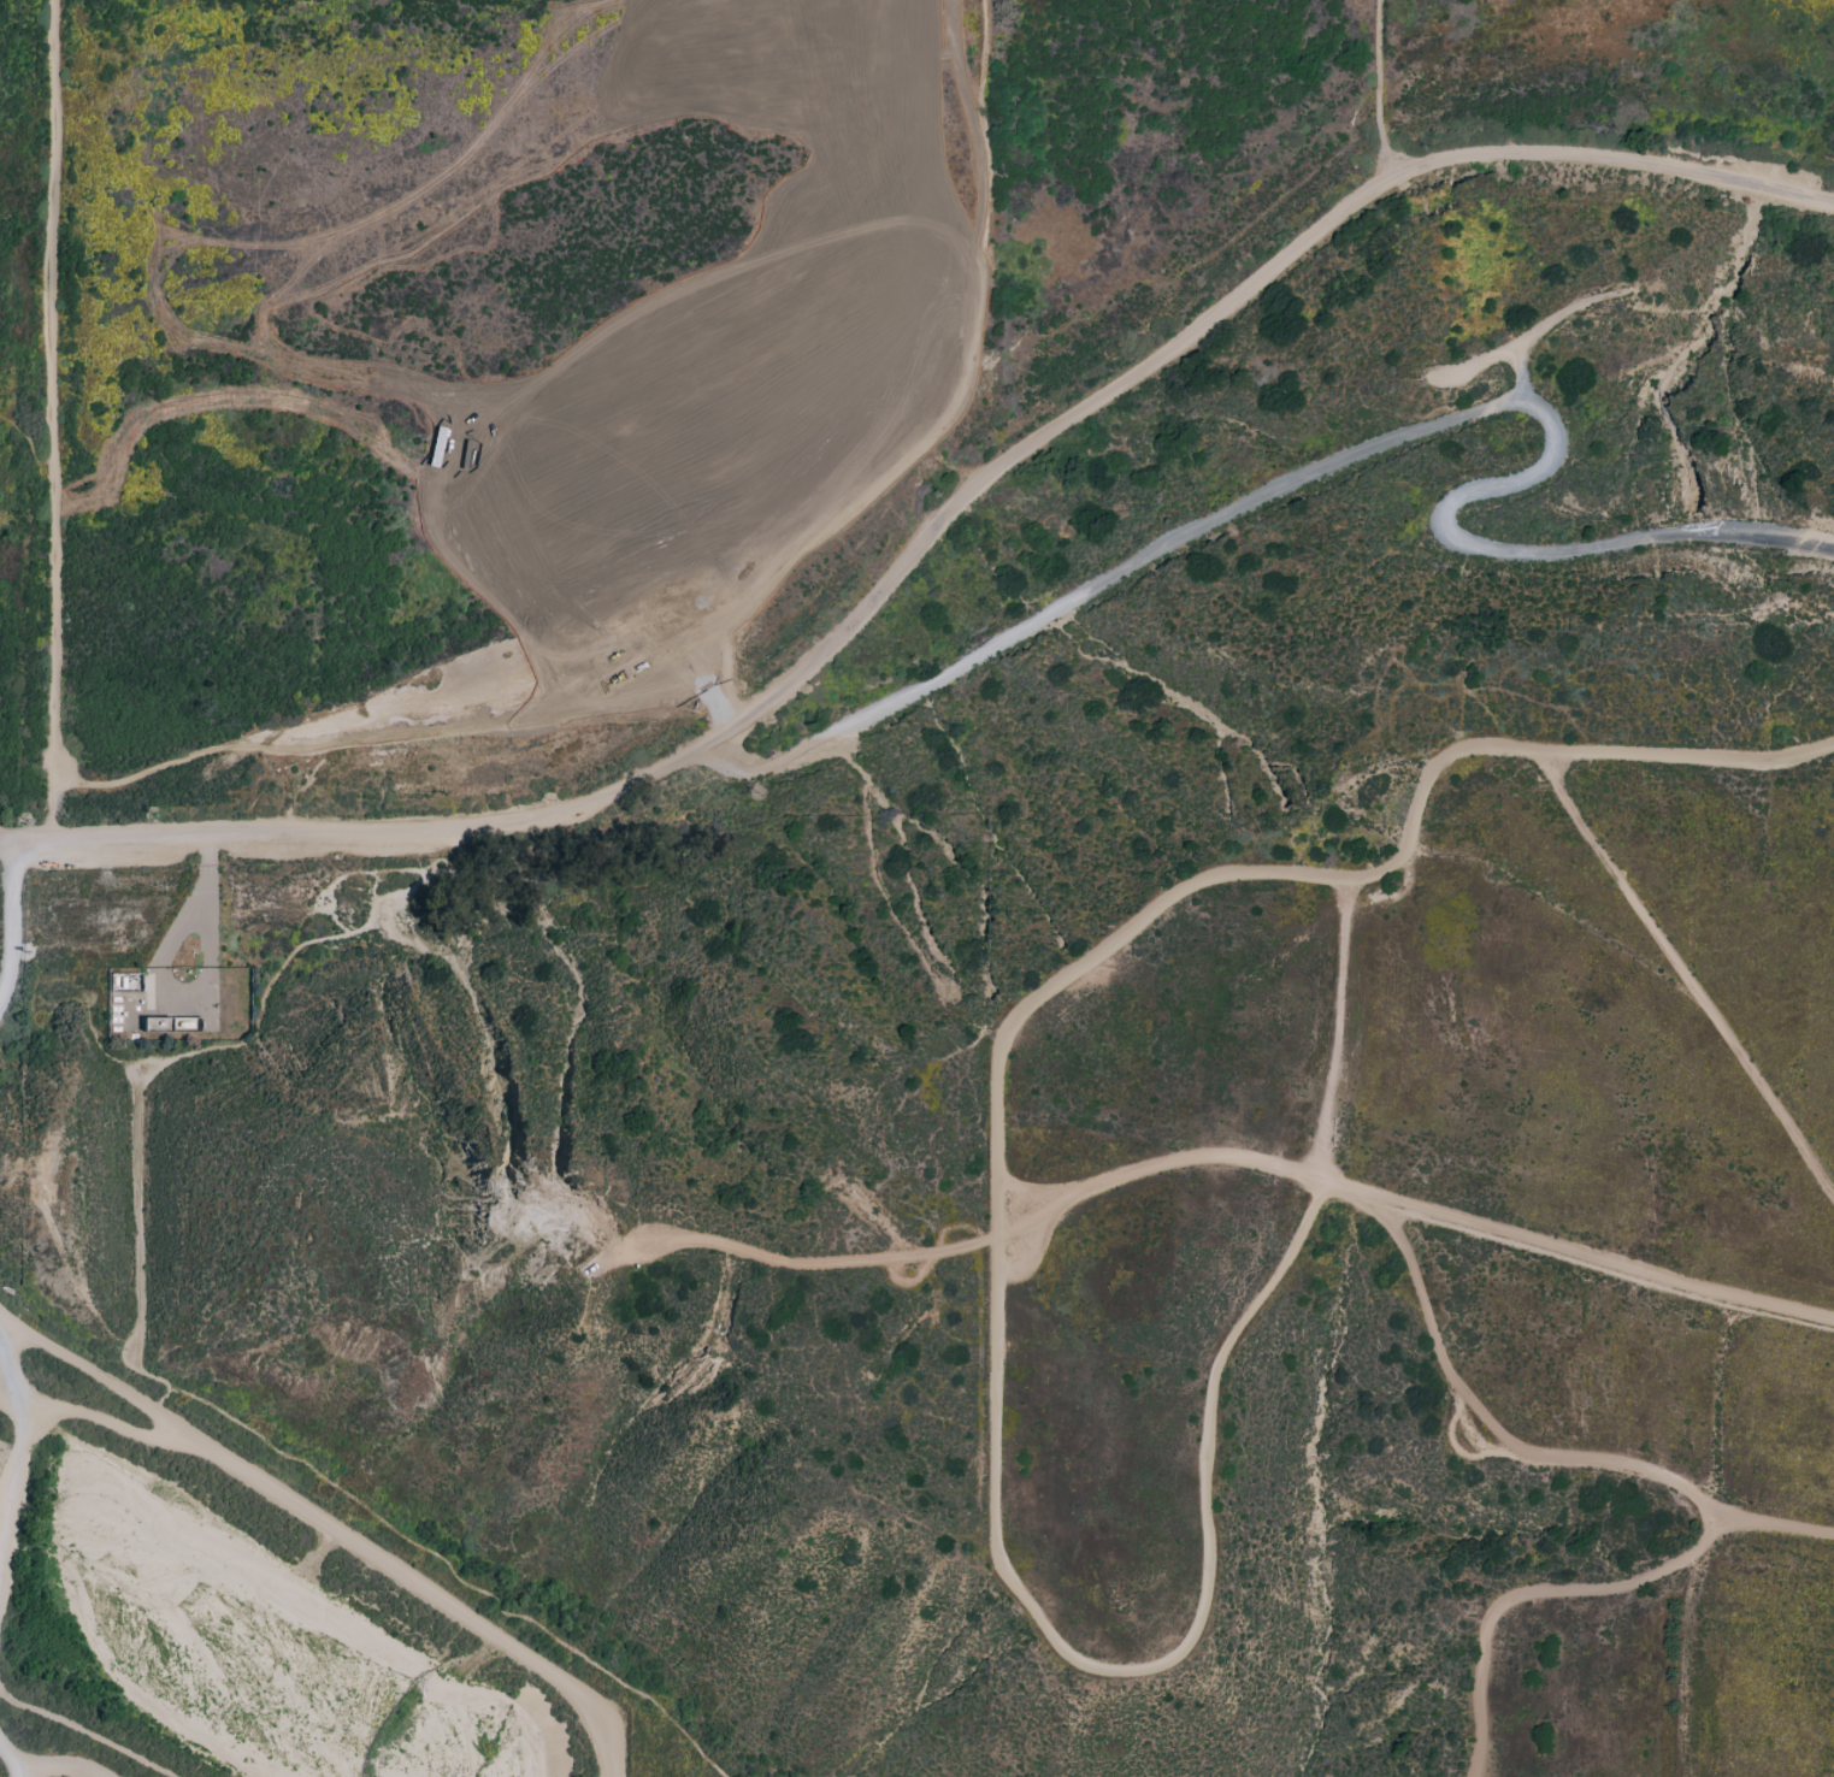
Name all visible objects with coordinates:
road: (216, 2)
road: (959, 18)
park: (816, 47)
road: (191, 54)
road: (468, 64)
road: (632, 66)
road: (1381, 95)
road: (602, 98)
park: (539, 100)
park: (391, 101)
road: (1555, 318)
road: (742, 336)
road: (1494, 355)
building: (913, 380)
road: (1521, 380)
road: (933, 399)
road: (285, 401)
road: (753, 429)
building: (891, 436)
road: (57, 437)
road: (30, 442)
building: (794, 442)
road: (1382, 443)
road: (543, 467)
building: (750, 470)
building: (842, 470)
building: (698, 492)
building: (783, 501)
parking lot: (537, 502)
building: (647, 518)
building: (742, 532)
road: (936, 537)
road: (667, 543)
building: (702, 549)
building: (564, 567)
road: (708, 651)
road: (5, 851)
road: (1333, 886)
parking lot: (0, 898)
road: (10, 921)
road: (1689, 981)
road: (1335, 1032)
road: (1156, 1162)
road: (1467, 1222)
road: (812, 1258)
road: (10, 1401)
road: (102, 1421)
road: (19, 1441)
road: (1680, 1474)
road: (337, 1529)
road: (1769, 1529)
road: (1061, 1643)
road: (87, 1734)
road: (11, 1760)
road: (53, 1767)

